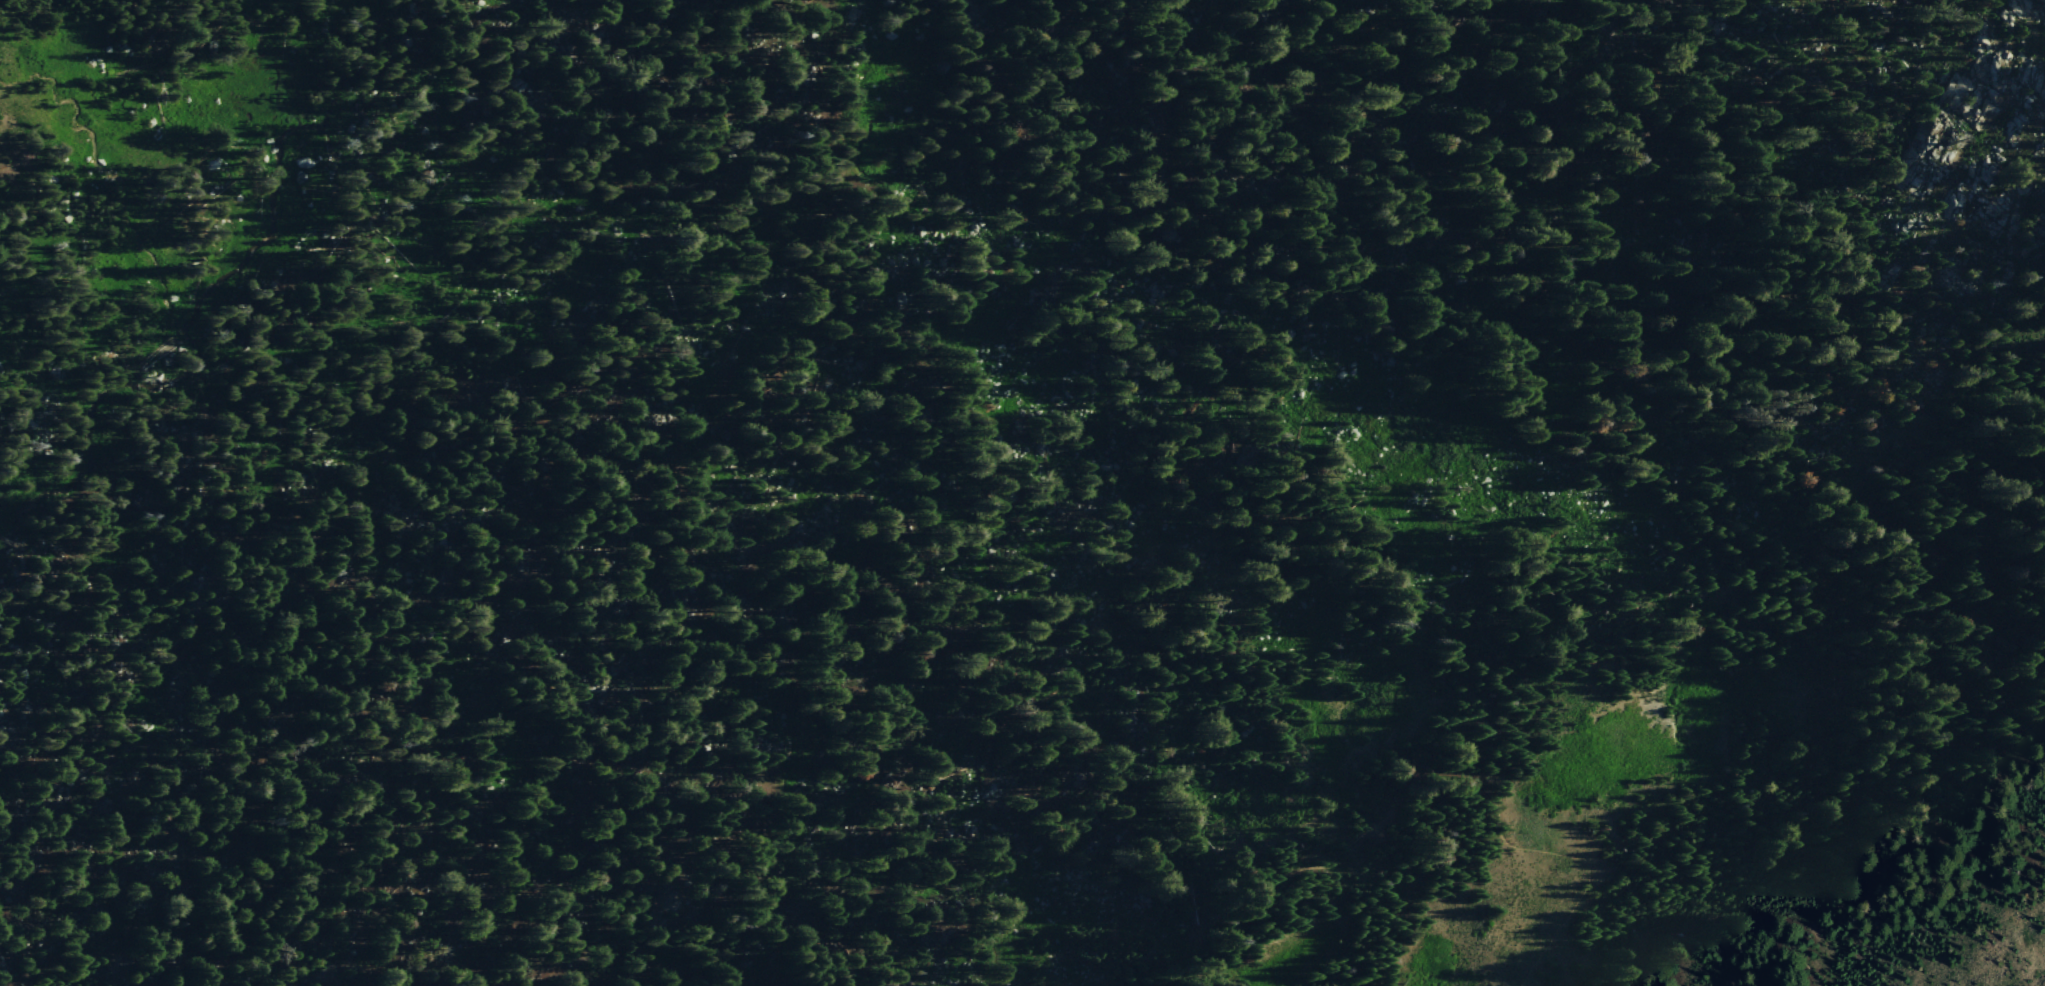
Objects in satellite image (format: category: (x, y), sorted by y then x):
road: (611, 232)
road: (663, 541)
road: (1429, 787)

